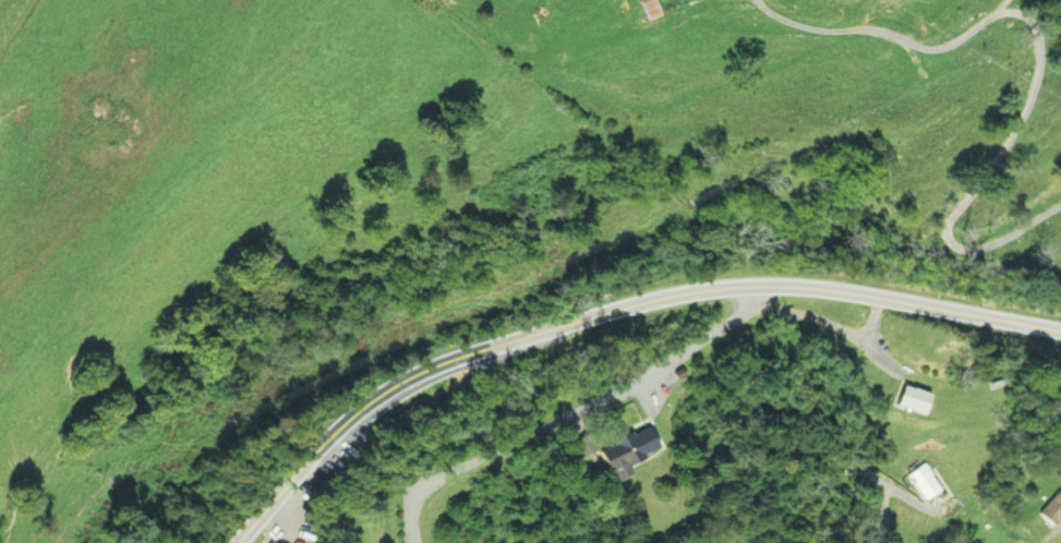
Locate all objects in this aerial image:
building: (646, 8)
road: (1035, 59)
road: (616, 319)
road: (829, 328)
building: (909, 398)
road: (570, 415)
building: (581, 444)
building: (624, 450)
building: (921, 481)
road: (881, 493)
building: (1051, 508)
building: (266, 542)

